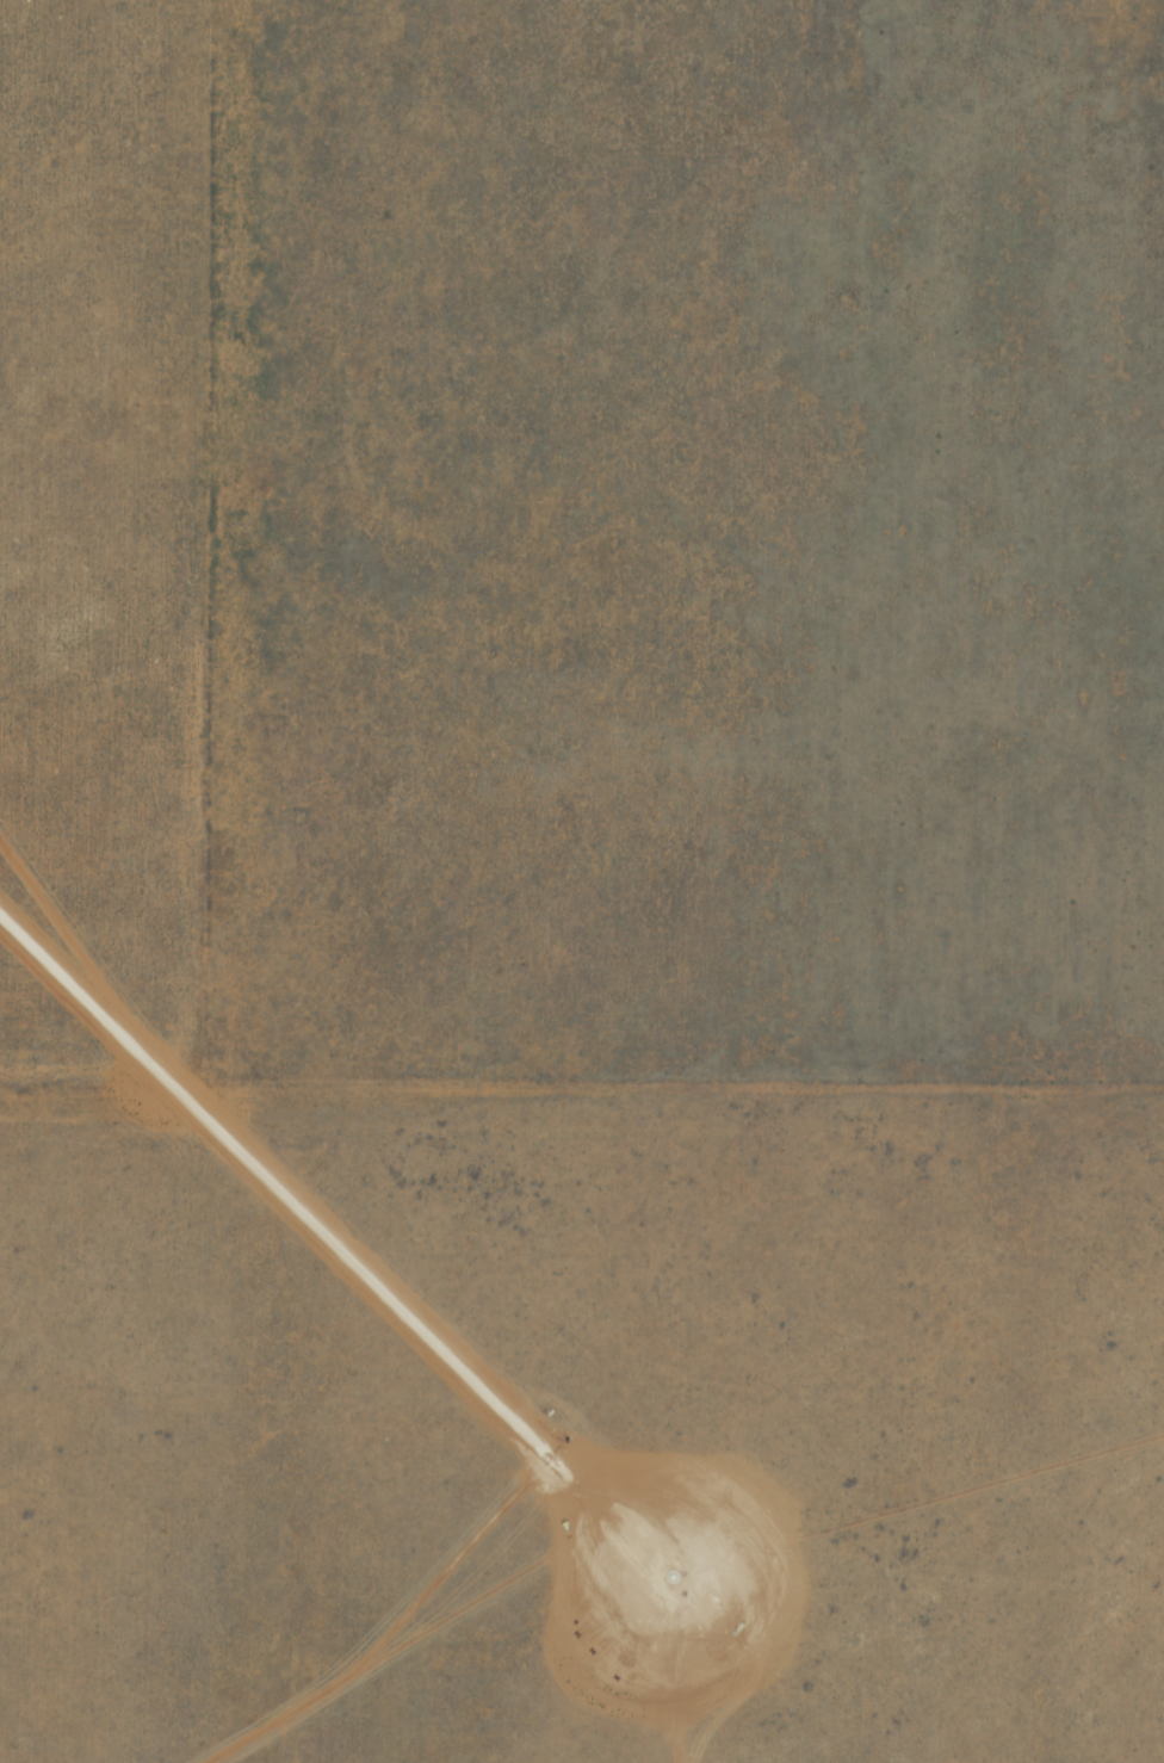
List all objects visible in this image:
wind turbine: (663, 1573)

